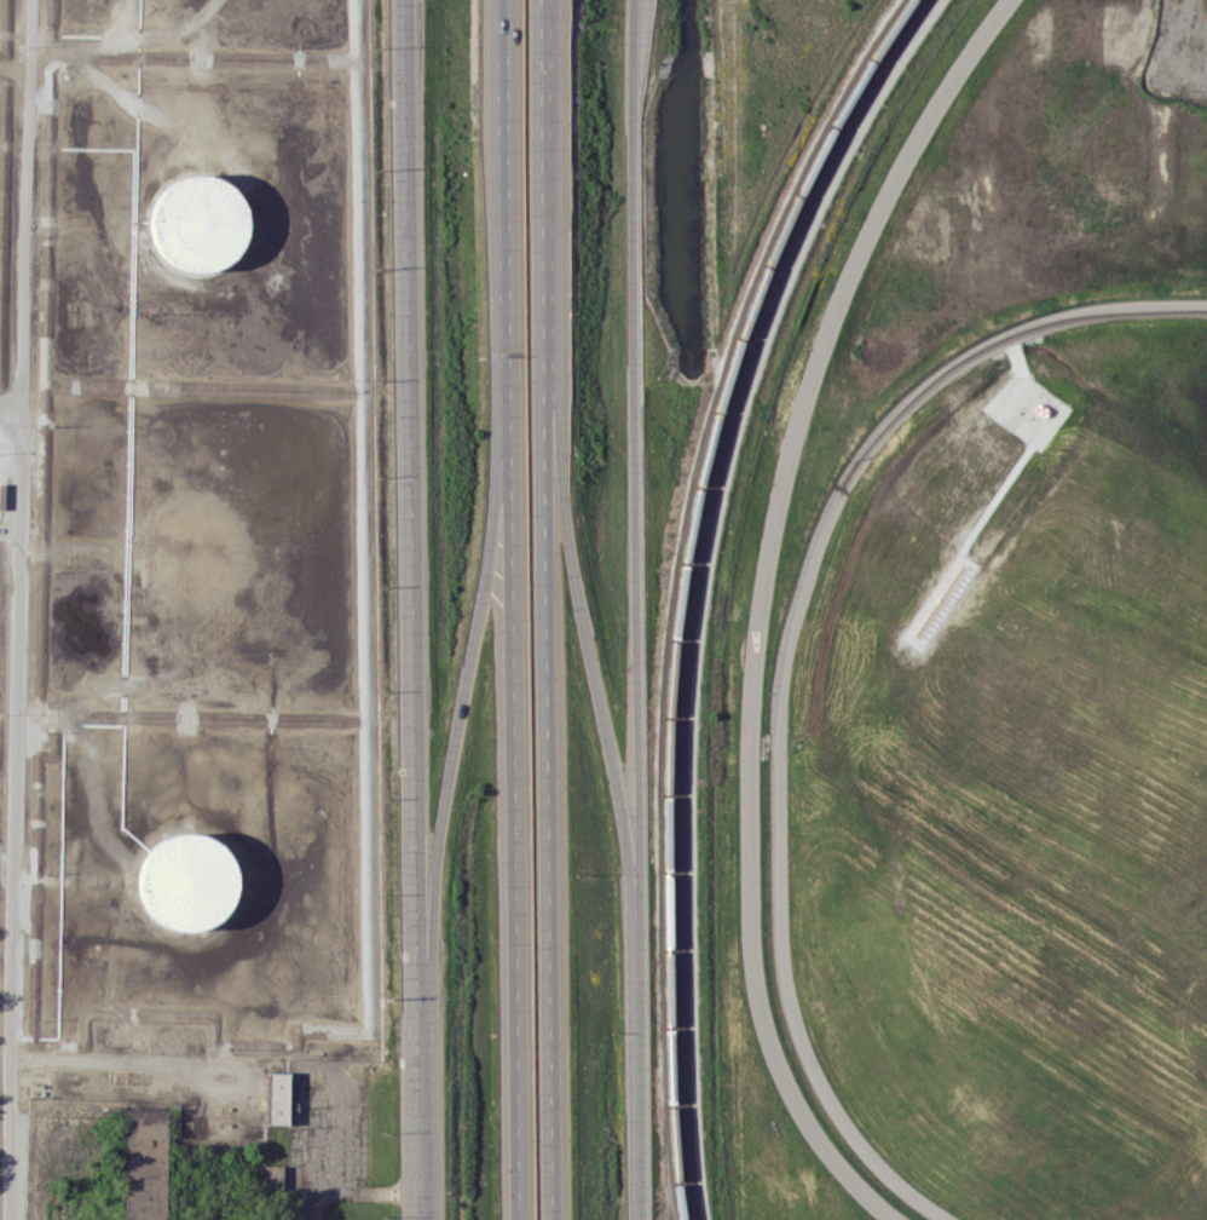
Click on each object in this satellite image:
road: (509, 157)
road: (25, 208)
building: (202, 228)
storage tank: (202, 228)
road: (640, 476)
road: (412, 503)
railway: (681, 585)
railway: (694, 585)
road: (757, 605)
road: (547, 609)
road: (470, 661)
road: (786, 661)
road: (595, 672)
road: (512, 767)
airport: (1005, 777)
road: (17, 810)
building: (186, 881)
storage tank: (186, 881)
road: (637, 1086)
building: (276, 1098)
road: (422, 1113)
road: (356, 1198)

